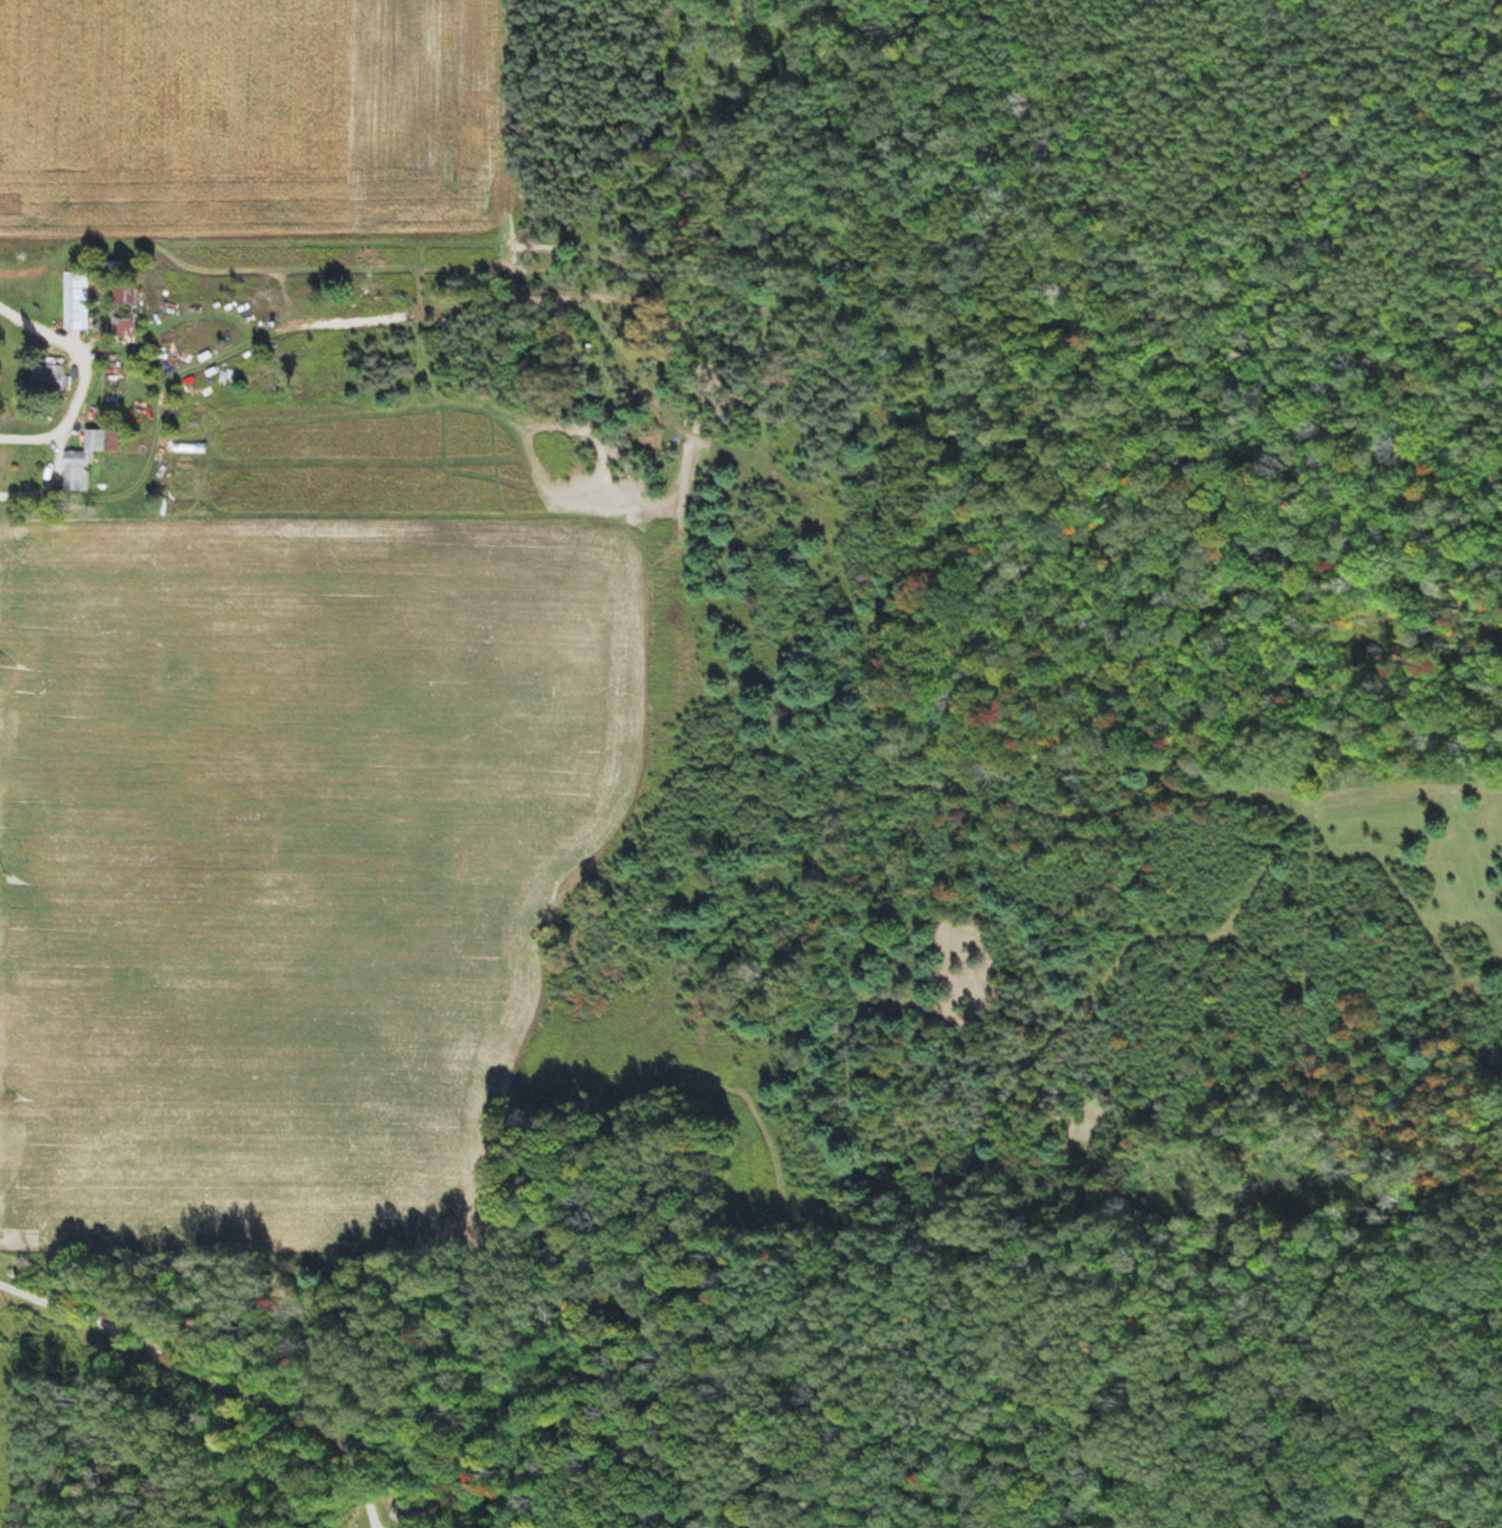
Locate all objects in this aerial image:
building: (74, 300)
building: (121, 310)
building: (46, 376)
building: (84, 458)
road: (284, 1441)
building: (404, 1513)

